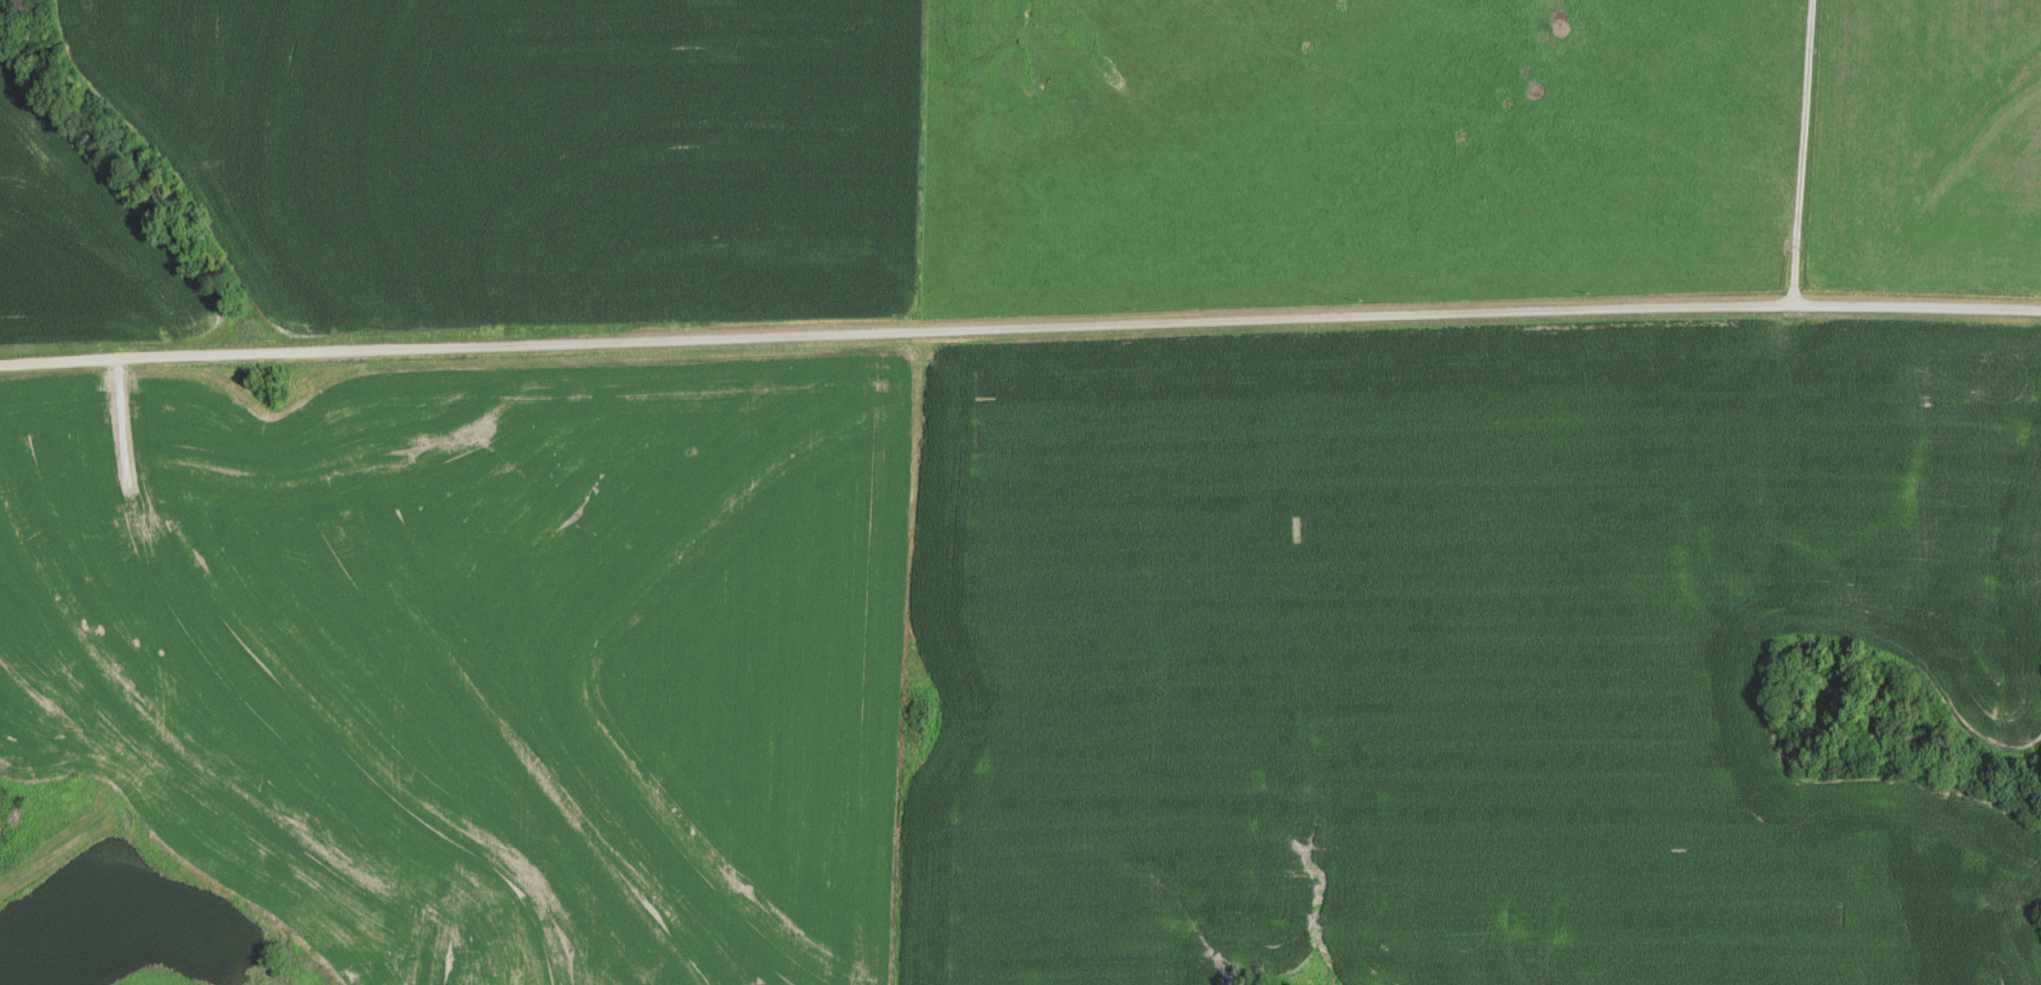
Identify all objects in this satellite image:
road: (1801, 150)
road: (1020, 326)
road: (121, 424)

